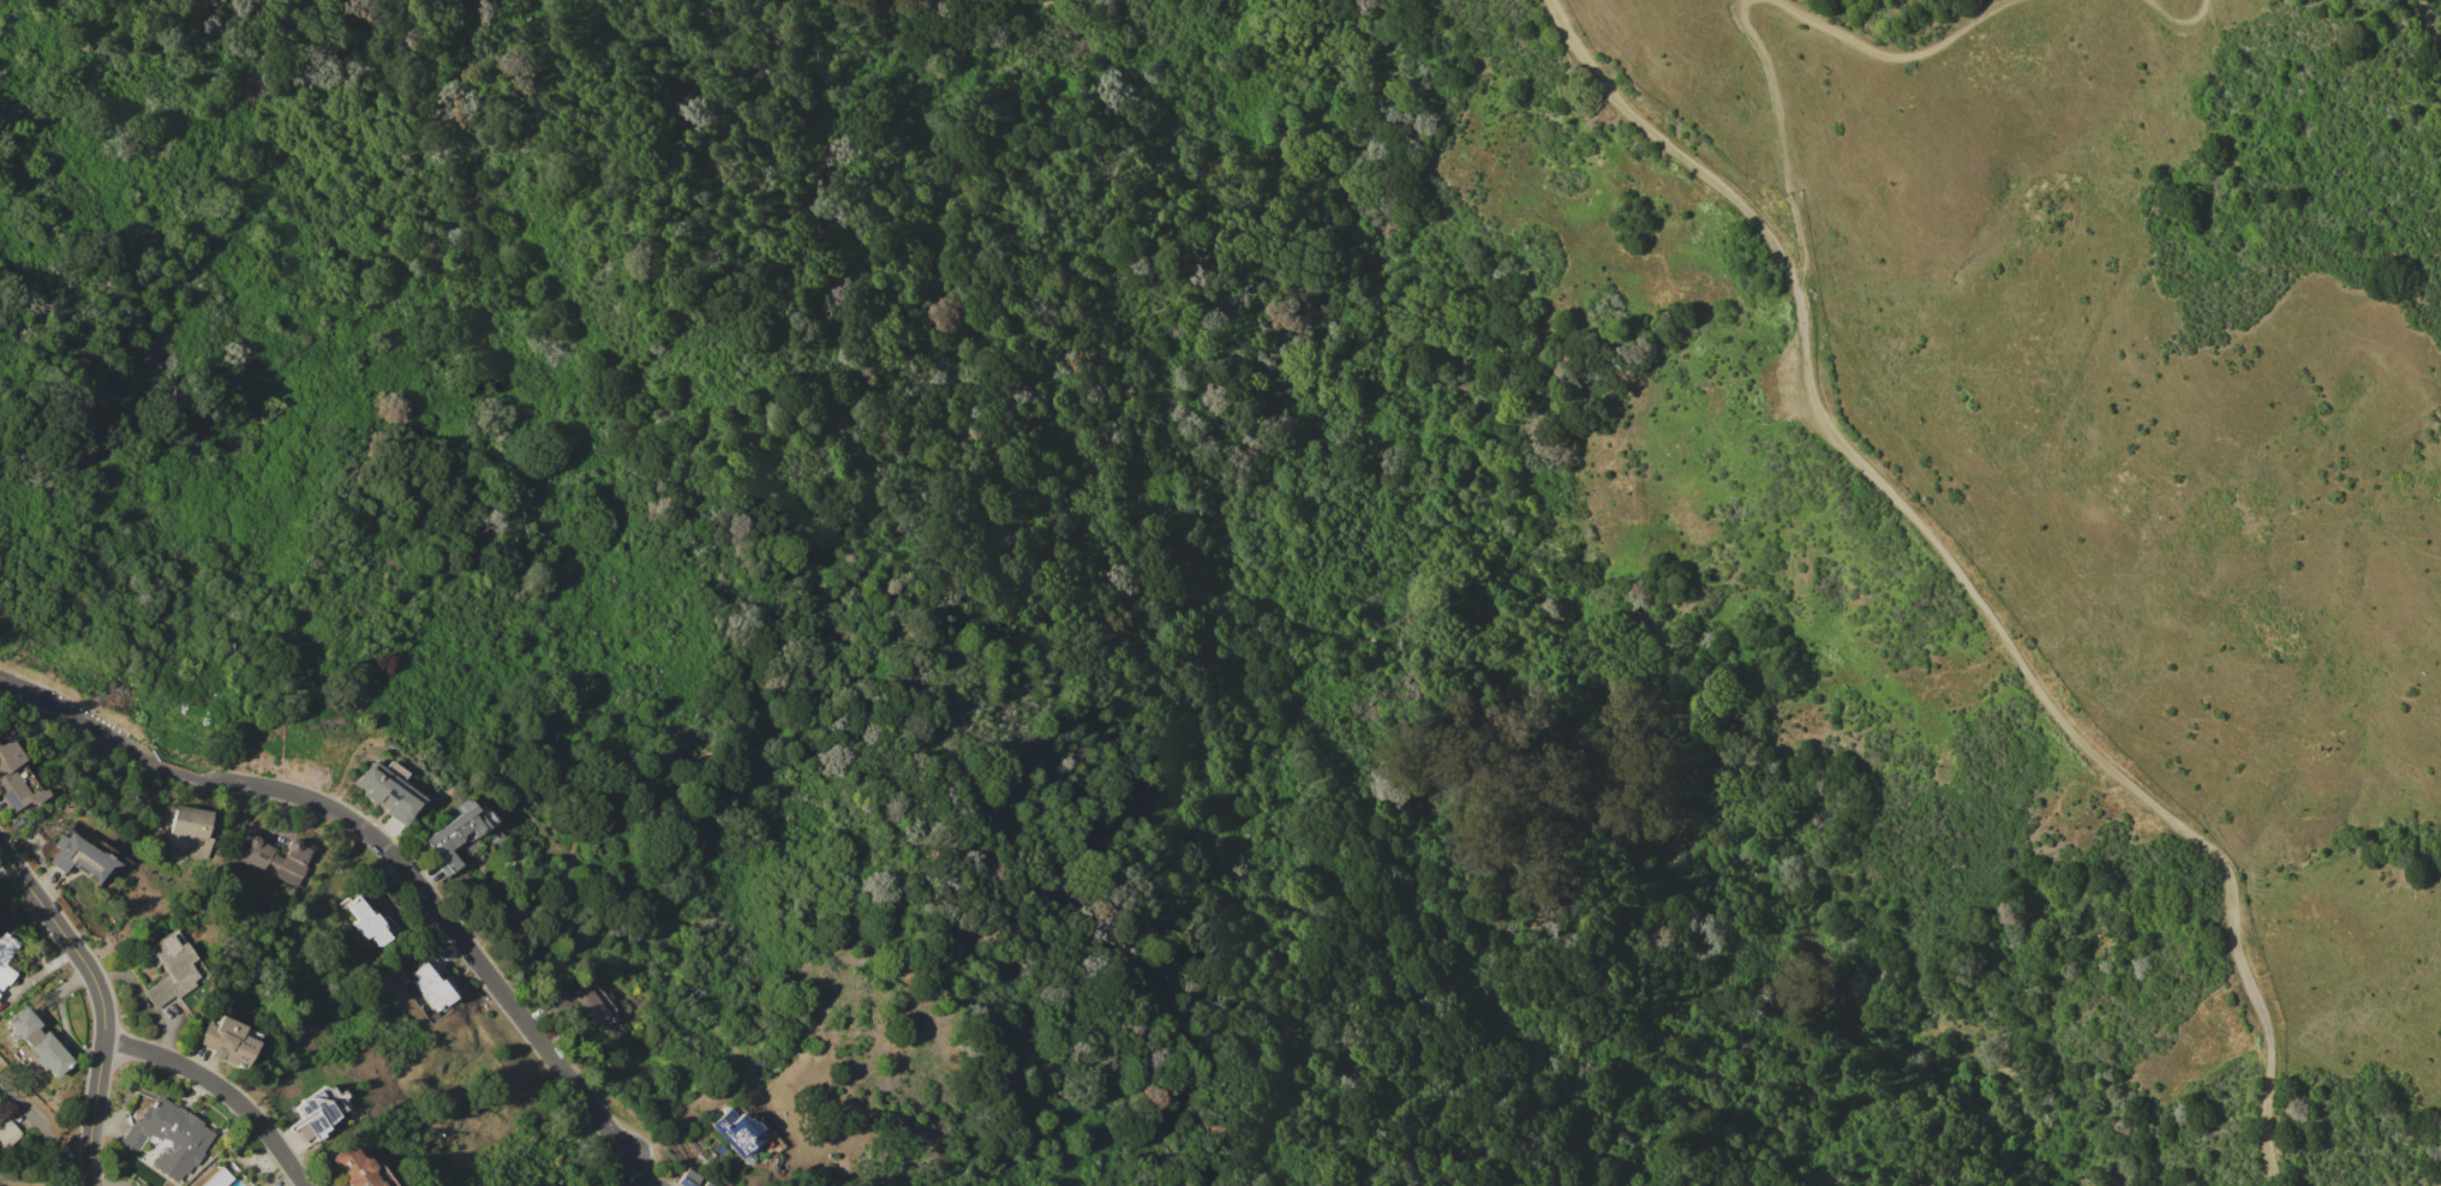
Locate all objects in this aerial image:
road: (1723, 2)
road: (2180, 23)
road: (2429, 24)
road: (1896, 55)
road: (1781, 140)
road: (1961, 571)
building: (17, 787)
building: (389, 791)
building: (189, 827)
building: (463, 837)
road: (1569, 837)
road: (379, 845)
building: (80, 856)
building: (276, 859)
building: (367, 921)
building: (6, 958)
building: (170, 968)
building: (432, 982)
road: (102, 1000)
building: (580, 1010)
building: (38, 1042)
building: (227, 1042)
road: (222, 1091)
building: (319, 1109)
road: (47, 1126)
building: (737, 1132)
building: (7, 1133)
building: (166, 1139)
building: (358, 1169)
building: (216, 1178)
road: (650, 1179)
building: (688, 1179)
road: (107, 1180)
road: (35, 1182)
building: (706, 1184)

